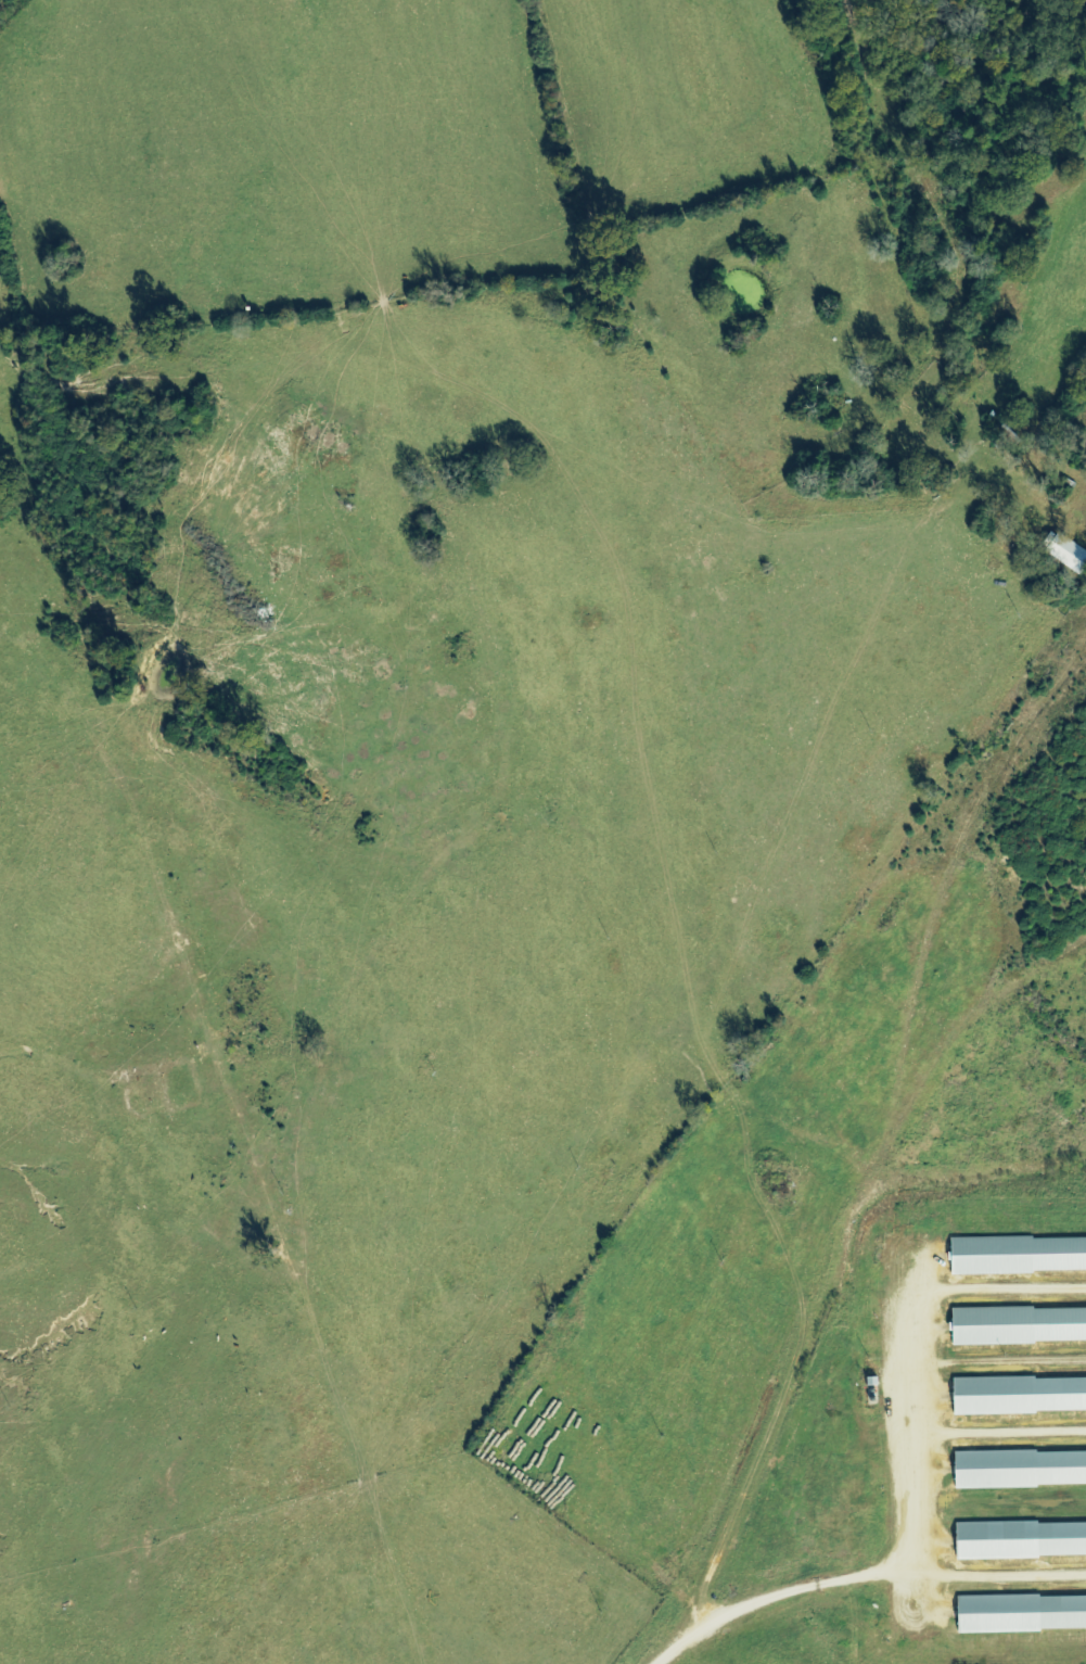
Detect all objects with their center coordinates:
road: (938, 287)
building: (1065, 554)
road: (889, 1157)
building: (1019, 1256)
building: (1019, 1325)
building: (1020, 1396)
building: (1020, 1469)
building: (1021, 1541)
building: (1022, 1614)

